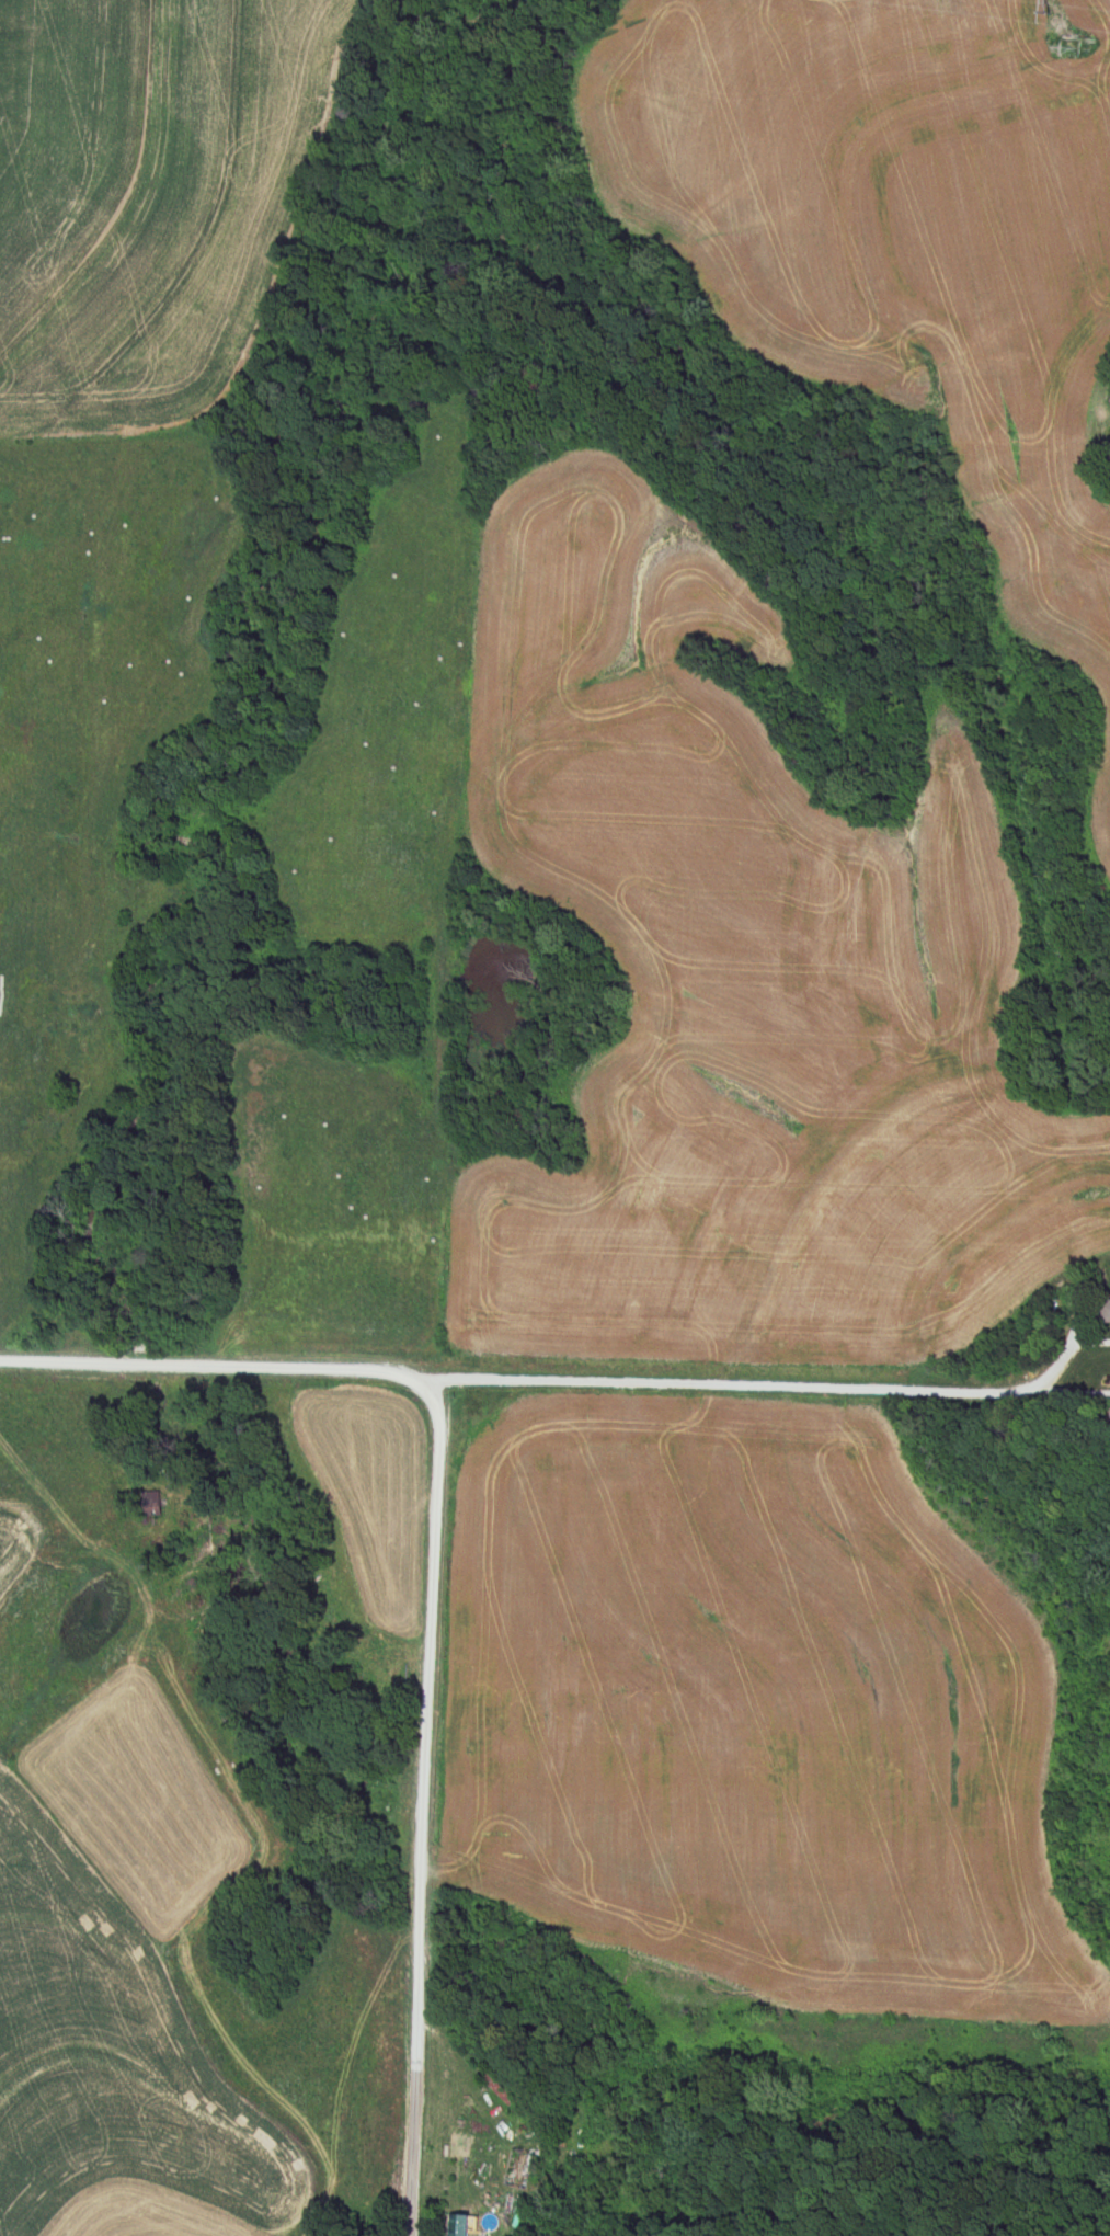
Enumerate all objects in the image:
power tower: (1041, 2)
building: (1105, 1307)
road: (220, 1368)
road: (770, 1390)
road: (423, 1812)
building: (493, 2088)
building: (514, 2169)
building: (453, 2224)

